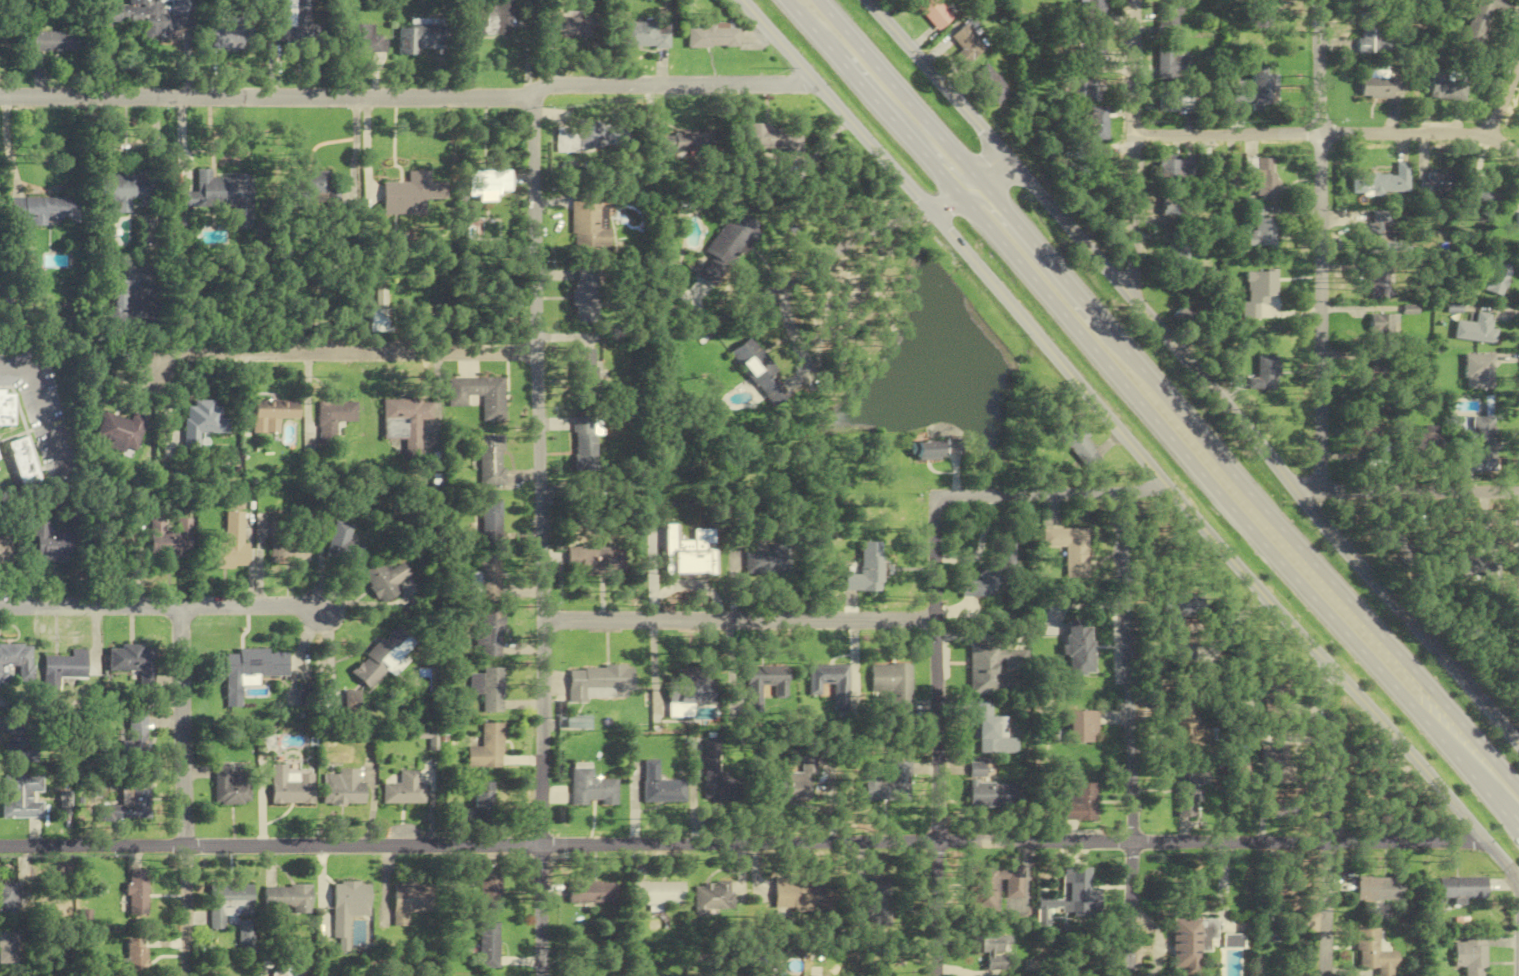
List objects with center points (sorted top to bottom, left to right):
building: (1369, 0)
building: (1096, 8)
building: (1258, 8)
building: (934, 12)
building: (151, 15)
building: (491, 17)
building: (1168, 17)
road: (803, 19)
building: (1482, 20)
building: (289, 24)
building: (569, 27)
building: (227, 30)
building: (644, 34)
building: (1371, 34)
building: (712, 36)
building: (417, 37)
building: (362, 40)
building: (55, 41)
building: (969, 44)
building: (1172, 64)
building: (993, 83)
building: (1381, 84)
building: (1445, 86)
building: (1084, 90)
building: (1256, 92)
road: (1502, 95)
road: (409, 96)
building: (1169, 100)
road: (906, 101)
road: (881, 107)
building: (1099, 122)
road: (1330, 133)
building: (589, 135)
building: (773, 138)
road: (181, 142)
building: (677, 143)
road: (6, 144)
road: (354, 144)
road: (365, 144)
road: (1133, 146)
building: (1097, 161)
road: (990, 166)
building: (1178, 168)
building: (1262, 176)
building: (1382, 181)
road: (958, 182)
building: (487, 184)
building: (1437, 184)
building: (315, 186)
building: (122, 189)
building: (211, 193)
building: (411, 194)
road: (978, 194)
building: (1482, 198)
road: (945, 204)
building: (1174, 206)
building: (44, 210)
building: (587, 220)
building: (1517, 221)
building: (1260, 230)
road: (865, 234)
building: (1381, 234)
building: (727, 237)
road: (1319, 244)
building: (1180, 250)
road: (1054, 268)
building: (1498, 272)
building: (1377, 285)
building: (1259, 291)
building: (585, 294)
building: (118, 305)
building: (380, 319)
building: (1384, 325)
building: (1475, 329)
road: (340, 352)
road: (1195, 369)
building: (757, 371)
building: (1478, 371)
building: (1380, 372)
building: (1266, 373)
building: (584, 374)
building: (478, 395)
road: (42, 405)
building: (6, 408)
building: (272, 413)
building: (333, 419)
building: (202, 421)
building: (407, 422)
building: (121, 431)
road: (1123, 433)
building: (1478, 442)
building: (585, 443)
building: (1376, 443)
building: (1081, 446)
building: (928, 450)
building: (489, 457)
building: (22, 462)
road: (1420, 489)
road: (1051, 493)
road: (1315, 494)
road: (1230, 503)
building: (490, 519)
road: (1518, 525)
building: (170, 535)
road: (540, 536)
building: (229, 539)
building: (50, 542)
building: (344, 545)
building: (290, 547)
building: (4, 548)
building: (1070, 548)
building: (686, 552)
building: (595, 558)
road: (1314, 562)
building: (765, 563)
building: (1474, 564)
building: (865, 569)
building: (993, 575)
building: (487, 576)
building: (386, 580)
road: (163, 604)
road: (739, 619)
building: (1182, 622)
building: (490, 634)
building: (1080, 647)
building: (384, 657)
building: (16, 660)
building: (136, 661)
building: (67, 666)
building: (994, 668)
building: (251, 669)
building: (598, 683)
building: (828, 683)
building: (761, 684)
building: (892, 687)
building: (489, 688)
building: (684, 688)
building: (1273, 695)
building: (352, 701)
building: (576, 722)
building: (1180, 723)
building: (1081, 727)
building: (138, 731)
building: (990, 733)
road: (1127, 734)
road: (934, 735)
building: (20, 740)
building: (488, 748)
building: (1273, 762)
building: (713, 776)
building: (791, 783)
building: (233, 785)
building: (292, 785)
building: (886, 785)
building: (658, 786)
building: (344, 787)
road: (184, 789)
building: (405, 789)
building: (591, 789)
building: (1186, 793)
building: (485, 794)
building: (20, 796)
building: (989, 796)
building: (136, 797)
building: (1077, 804)
road: (1325, 818)
road: (742, 842)
road: (1513, 876)
building: (493, 887)
building: (991, 887)
building: (1462, 887)
building: (1379, 889)
building: (137, 891)
building: (591, 892)
building: (1076, 892)
building: (656, 893)
building: (801, 895)
building: (9, 898)
building: (709, 898)
building: (289, 899)
building: (413, 900)
building: (876, 901)
building: (229, 902)
building: (350, 906)
building: (246, 933)
building: (1232, 941)
building: (1190, 942)
building: (492, 945)
building: (9, 947)
building: (989, 950)
building: (1374, 953)
building: (1471, 954)
building: (136, 956)

